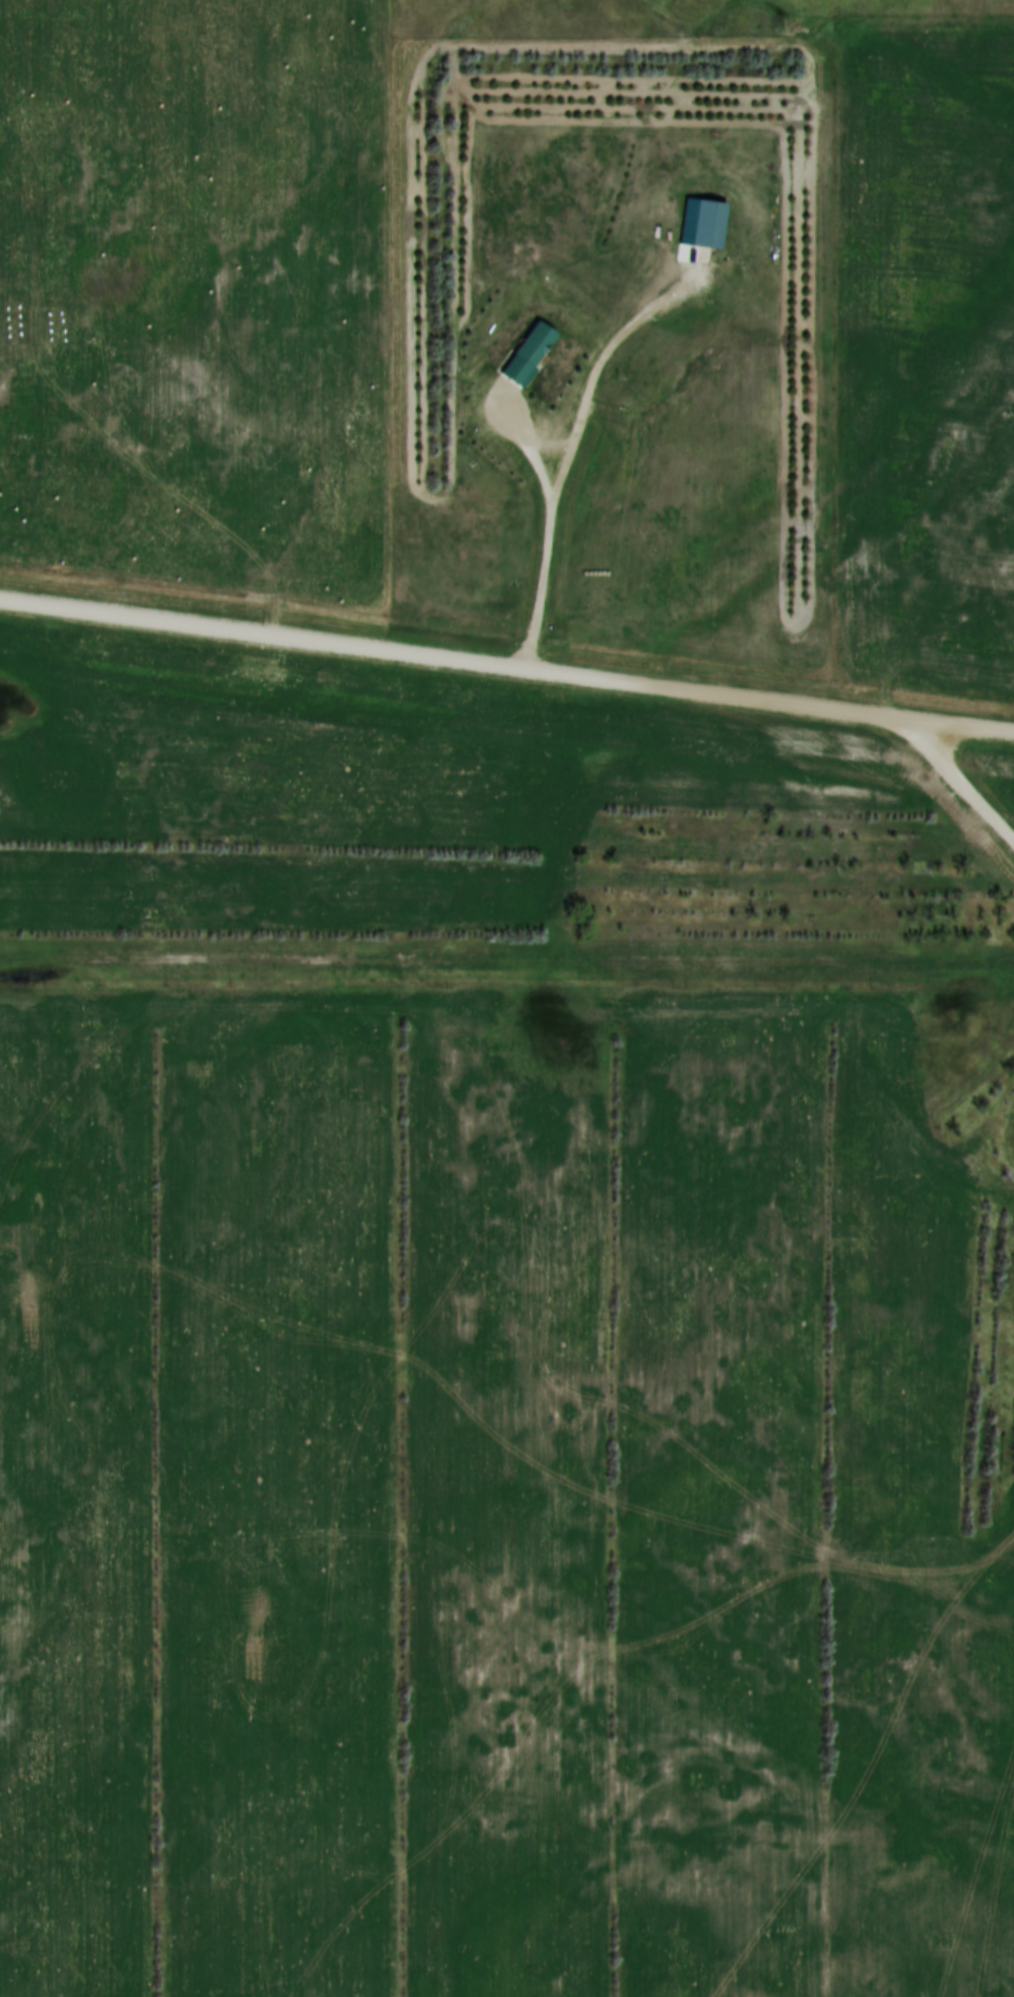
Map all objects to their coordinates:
building: (706, 223)
building: (527, 353)
road: (228, 629)
road: (735, 695)

